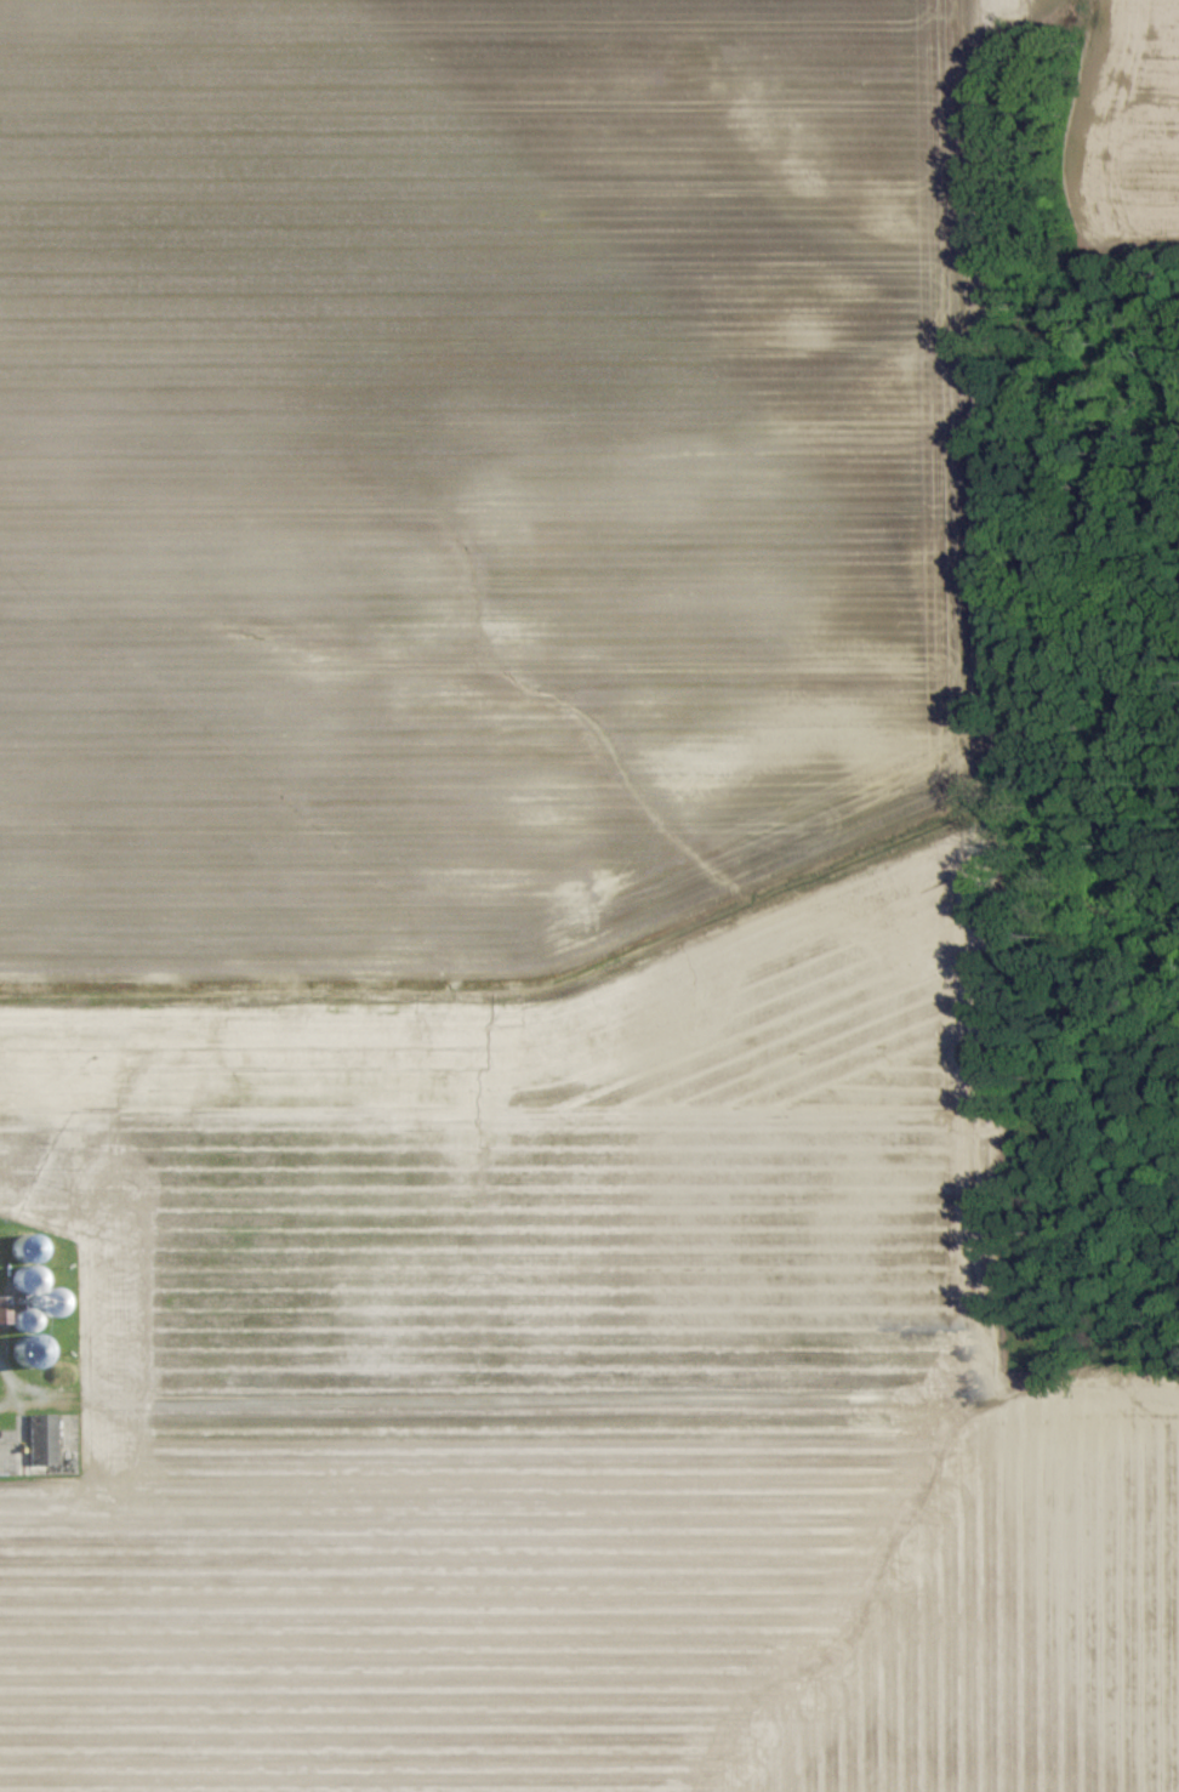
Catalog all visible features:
building: (39, 1359)
building: (36, 1438)

